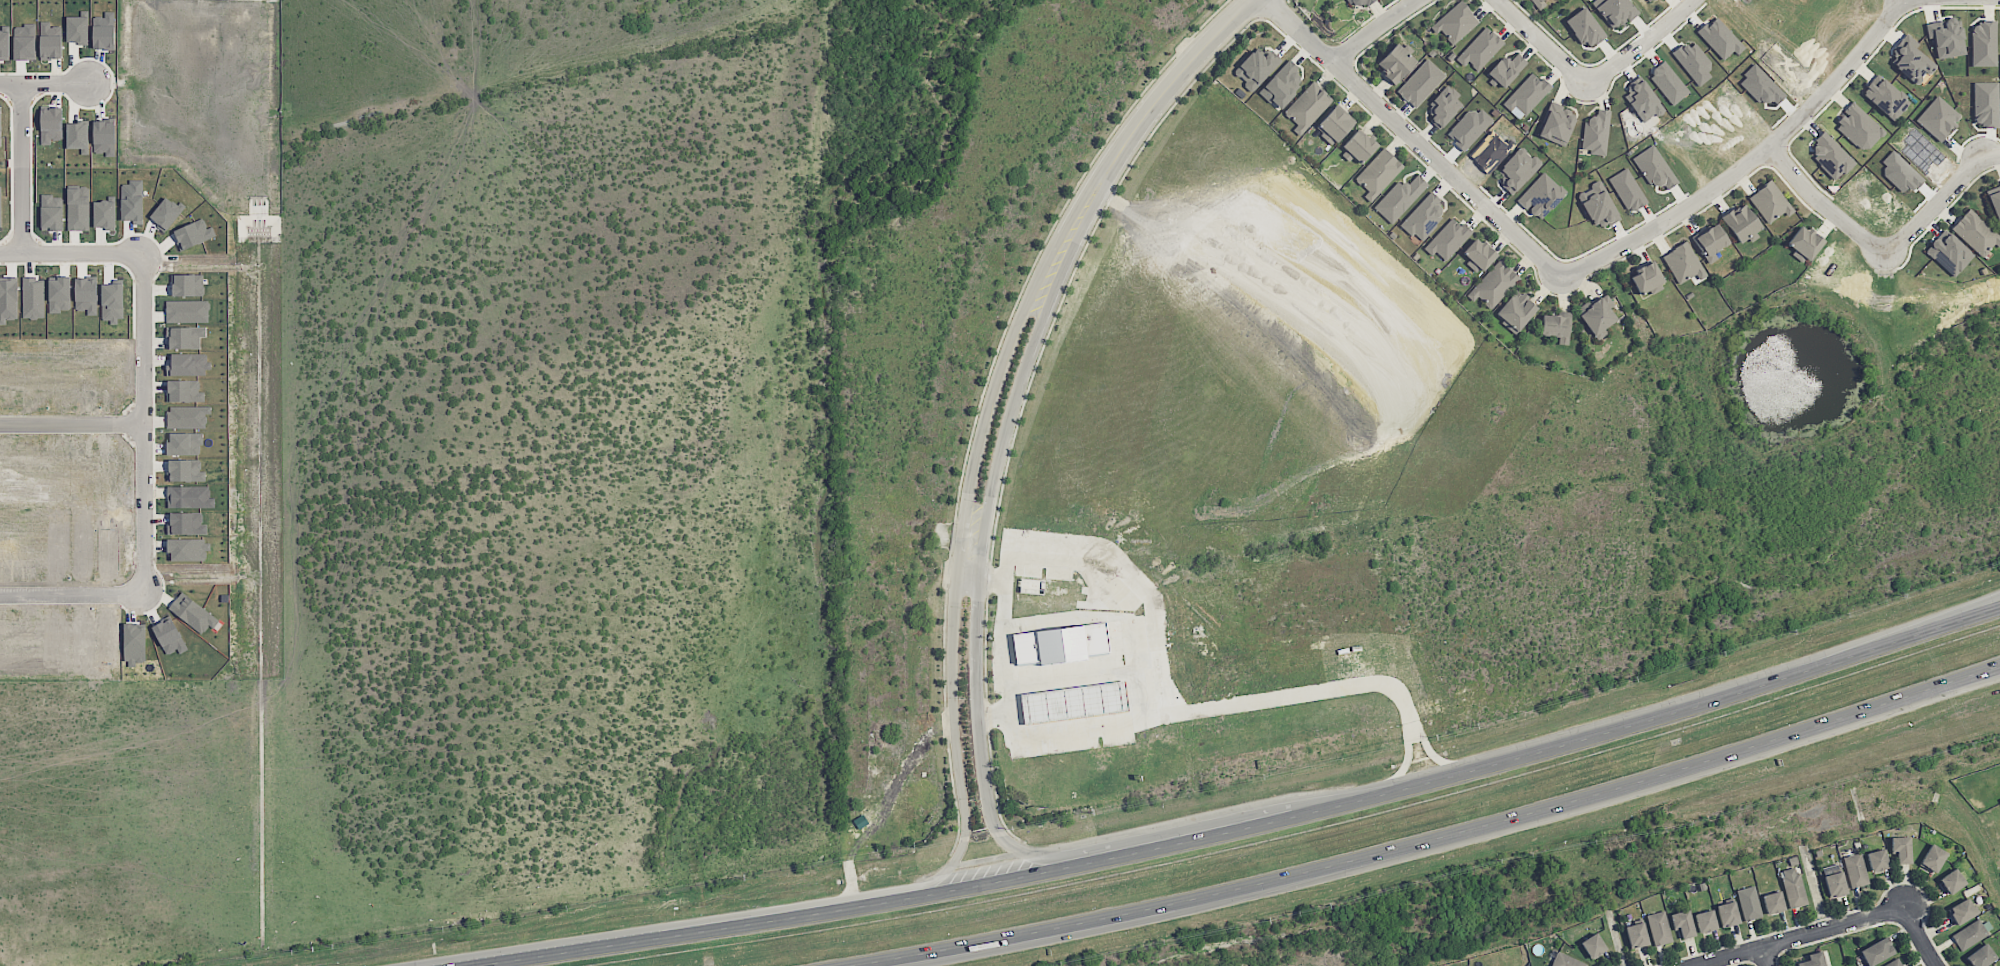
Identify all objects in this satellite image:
building: (1535, 1)
building: (1650, 1)
building: (1356, 3)
building: (1614, 12)
building: (1455, 22)
road: (1373, 28)
building: (1585, 28)
building: (1720, 38)
building: (1946, 38)
building: (1983, 44)
building: (51, 46)
building: (1480, 49)
building: (1911, 59)
building: (1693, 62)
building: (1395, 63)
building: (1255, 68)
building: (1506, 69)
road: (1591, 80)
building: (1668, 82)
building: (1420, 83)
road: (44, 84)
building: (1281, 85)
building: (1527, 94)
building: (1885, 97)
building: (1643, 101)
building: (1985, 103)
building: (1444, 106)
building: (1307, 107)
building: (1938, 118)
building: (51, 124)
building: (1556, 124)
building: (1334, 125)
building: (1469, 127)
building: (1858, 127)
building: (0, 129)
road: (1134, 129)
building: (1596, 132)
road: (1415, 137)
building: (1358, 146)
building: (1830, 155)
road: (1750, 159)
building: (1654, 168)
road: (20, 169)
building: (1517, 169)
building: (1378, 173)
building: (1627, 190)
building: (1541, 195)
building: (1399, 198)
building: (1769, 202)
building: (1994, 202)
building: (1597, 205)
building: (1423, 216)
building: (1741, 222)
building: (1976, 232)
building: (1447, 239)
building: (1710, 241)
building: (1804, 242)
road: (1884, 251)
building: (1948, 252)
building: (1478, 254)
building: (1684, 264)
building: (1647, 279)
building: (1493, 284)
building: (1515, 311)
building: (1596, 316)
building: (1556, 327)
road: (143, 339)
road: (1005, 427)
road: (959, 549)
road: (967, 577)
road: (992, 579)
road: (144, 580)
road: (1987, 608)
road: (1987, 611)
building: (1061, 642)
road: (1999, 663)
road: (1999, 663)
road: (1079, 674)
road: (976, 702)
building: (1073, 702)
road: (991, 715)
road: (1007, 723)
road: (1443, 763)
road: (1403, 766)
road: (1662, 772)
road: (1231, 833)
building: (1901, 848)
road: (1034, 853)
building: (1933, 858)
building: (1876, 860)
building: (1855, 870)
building: (1833, 880)
building: (1952, 881)
road: (927, 882)
building: (1773, 902)
building: (1748, 903)
building: (1961, 911)
building: (1727, 913)
road: (1081, 921)
building: (1705, 921)
building: (1682, 923)
road: (1118, 925)
building: (1658, 928)
building: (1969, 934)
building: (1636, 935)
road: (1795, 936)
road: (1919, 936)
building: (1593, 945)
building: (1876, 951)
road: (1765, 956)
building: (1981, 956)
road: (500, 959)
building: (1566, 960)
building: (1813, 960)
building: (1893, 963)
building: (1995, 965)

